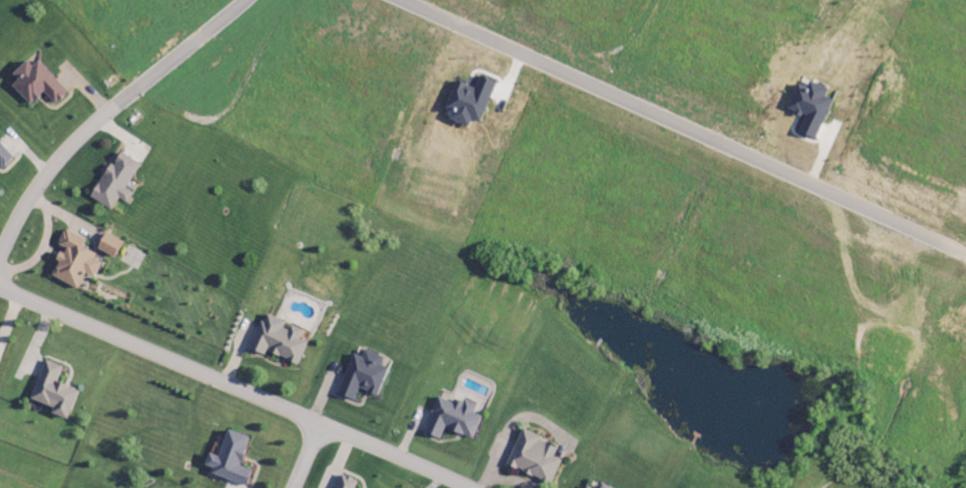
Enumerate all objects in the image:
road: (184, 50)
building: (36, 84)
building: (468, 102)
building: (809, 108)
road: (680, 128)
building: (4, 158)
road: (51, 167)
building: (115, 182)
building: (109, 246)
building: (73, 261)
building: (278, 340)
building: (363, 376)
road: (233, 388)
building: (52, 392)
building: (453, 419)
road: (305, 456)
building: (534, 458)
building: (230, 460)
building: (345, 483)
building: (586, 487)
building: (604, 487)

